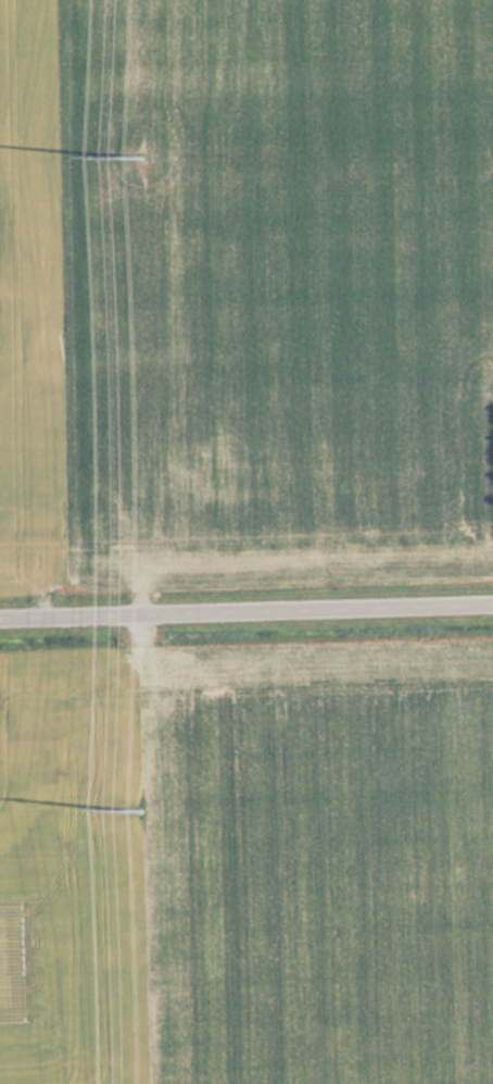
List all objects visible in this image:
power tower: (144, 155)
road: (246, 611)
power tower: (146, 809)

